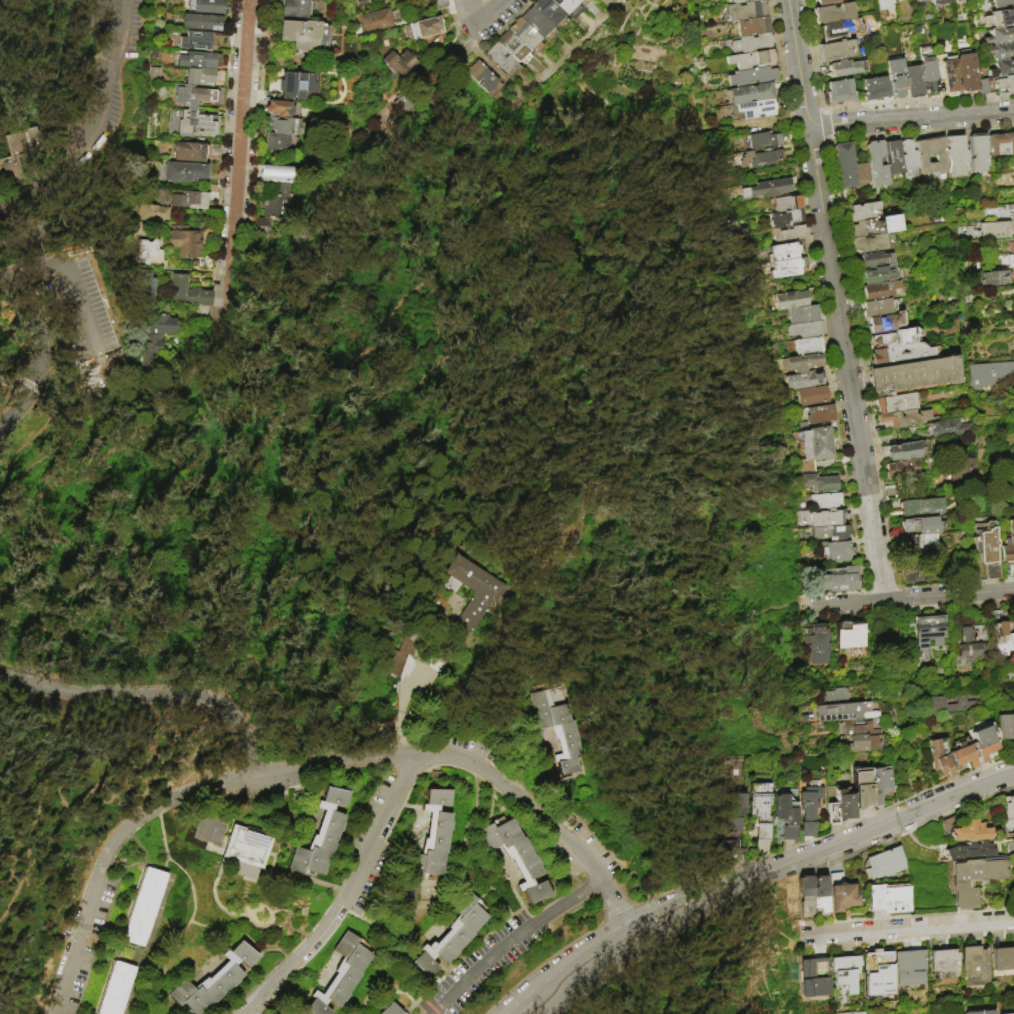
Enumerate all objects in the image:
building: (750, 0)
building: (848, 0)
building: (910, 0)
building: (919, 0)
building: (737, 1)
building: (583, 2)
building: (826, 2)
building: (940, 2)
building: (439, 3)
building: (1000, 5)
building: (206, 6)
building: (884, 6)
building: (570, 7)
building: (294, 9)
road: (471, 10)
road: (491, 11)
building: (550, 11)
building: (743, 11)
building: (833, 13)
building: (1007, 17)
building: (374, 20)
building: (202, 22)
building: (540, 24)
building: (752, 26)
building: (423, 28)
building: (839, 29)
building: (1000, 35)
building: (304, 36)
building: (527, 36)
road: (114, 39)
building: (203, 40)
building: (750, 43)
building: (515, 49)
building: (839, 51)
building: (1001, 51)
parking lot: (112, 59)
building: (198, 59)
building: (752, 59)
building: (504, 60)
road: (797, 62)
building: (402, 64)
building: (847, 67)
building: (1003, 68)
building: (929, 70)
building: (967, 73)
building: (949, 74)
building: (205, 76)
building: (483, 76)
building: (751, 76)
road: (443, 79)
building: (897, 79)
building: (914, 81)
building: (996, 85)
building: (296, 86)
building: (875, 89)
building: (840, 91)
building: (750, 93)
building: (199, 96)
road: (101, 100)
road: (861, 107)
building: (278, 110)
building: (751, 110)
road: (823, 111)
road: (910, 117)
building: (201, 122)
road: (826, 124)
building: (282, 126)
road: (919, 133)
building: (760, 140)
building: (275, 142)
road: (810, 143)
building: (1002, 144)
building: (189, 151)
building: (17, 153)
building: (978, 154)
building: (957, 155)
building: (760, 157)
building: (893, 157)
road: (239, 158)
building: (909, 158)
building: (922, 158)
building: (877, 164)
building: (844, 165)
building: (186, 172)
building: (275, 174)
building: (862, 174)
road: (32, 183)
building: (768, 188)
building: (189, 199)
building: (787, 202)
building: (271, 204)
building: (862, 211)
building: (153, 213)
building: (1013, 213)
building: (786, 217)
building: (873, 226)
building: (996, 229)
building: (790, 233)
building: (872, 242)
building: (187, 243)
building: (783, 251)
building: (150, 252)
building: (875, 259)
road: (32, 266)
building: (790, 266)
road: (813, 271)
building: (997, 271)
building: (882, 274)
building: (145, 285)
building: (881, 291)
building: (189, 292)
building: (795, 298)
road: (82, 301)
building: (878, 308)
parking lot: (70, 311)
building: (804, 313)
building: (884, 323)
building: (806, 328)
building: (156, 336)
building: (897, 337)
road: (857, 342)
building: (809, 345)
building: (902, 353)
road: (38, 354)
road: (18, 362)
building: (802, 362)
building: (913, 374)
building: (988, 374)
building: (806, 379)
road: (848, 381)
building: (814, 395)
building: (897, 403)
road: (346, 411)
building: (822, 414)
building: (904, 418)
building: (949, 428)
road: (33, 429)
road: (121, 441)
building: (816, 441)
building: (905, 451)
building: (903, 469)
building: (961, 469)
building: (821, 481)
building: (826, 500)
building: (922, 507)
building: (828, 517)
building: (924, 526)
building: (832, 532)
building: (985, 539)
building: (927, 542)
park: (374, 543)
building: (1008, 544)
building: (837, 551)
road: (859, 568)
road: (891, 569)
building: (910, 569)
building: (991, 571)
building: (843, 580)
road: (963, 583)
road: (902, 587)
road: (831, 593)
road: (906, 598)
building: (483, 599)
road: (906, 607)
road: (775, 608)
road: (799, 609)
building: (930, 628)
building: (851, 635)
building: (1003, 637)
building: (971, 642)
building: (817, 643)
road: (211, 647)
building: (399, 657)
road: (144, 697)
building: (833, 697)
road: (400, 705)
building: (948, 705)
building: (846, 712)
road: (903, 726)
building: (560, 727)
building: (1005, 727)
building: (860, 728)
building: (868, 743)
building: (984, 744)
building: (964, 754)
building: (942, 758)
road: (24, 761)
road: (278, 761)
road: (964, 774)
road: (99, 781)
building: (882, 786)
building: (863, 788)
road: (210, 805)
building: (843, 809)
building: (811, 810)
building: (761, 811)
building: (788, 812)
building: (1009, 813)
building: (733, 821)
parking lot: (210, 831)
road: (865, 833)
building: (971, 833)
building: (322, 837)
building: (434, 838)
building: (249, 848)
building: (968, 850)
building: (517, 858)
building: (886, 864)
road: (11, 876)
building: (1013, 879)
building: (975, 880)
road: (614, 885)
building: (815, 894)
building: (843, 894)
road: (350, 895)
building: (890, 899)
road: (569, 905)
road: (615, 905)
building: (145, 908)
road: (671, 909)
road: (615, 911)
road: (764, 914)
road: (674, 916)
building: (251, 926)
road: (902, 930)
building: (260, 932)
building: (255, 935)
building: (452, 935)
road: (630, 935)
road: (574, 941)
building: (1003, 958)
road: (486, 960)
building: (945, 962)
building: (975, 966)
road: (565, 967)
building: (910, 968)
building: (879, 973)
road: (586, 976)
building: (339, 977)
building: (815, 978)
building: (844, 979)
building: (215, 982)
building: (119, 989)
building: (393, 1010)
building: (981, 1012)
building: (1013, 1013)

